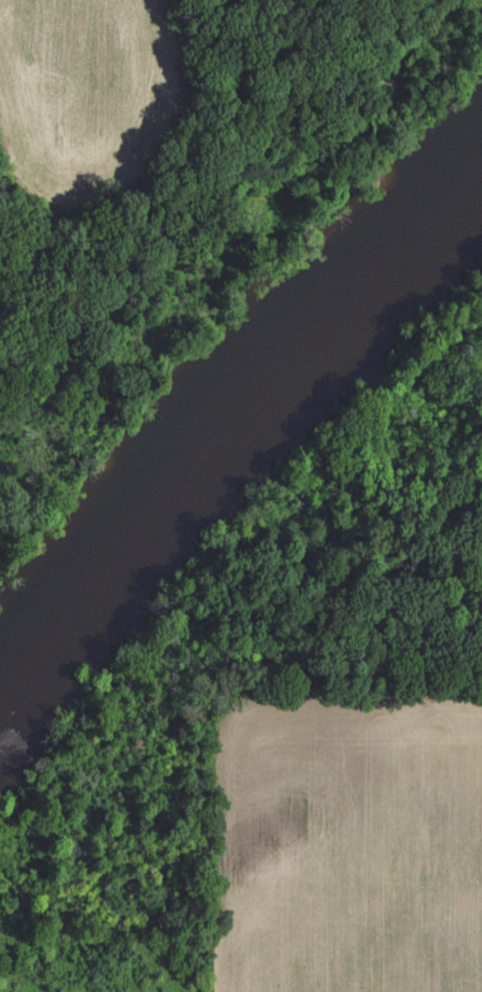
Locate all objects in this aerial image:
river: (239, 414)

